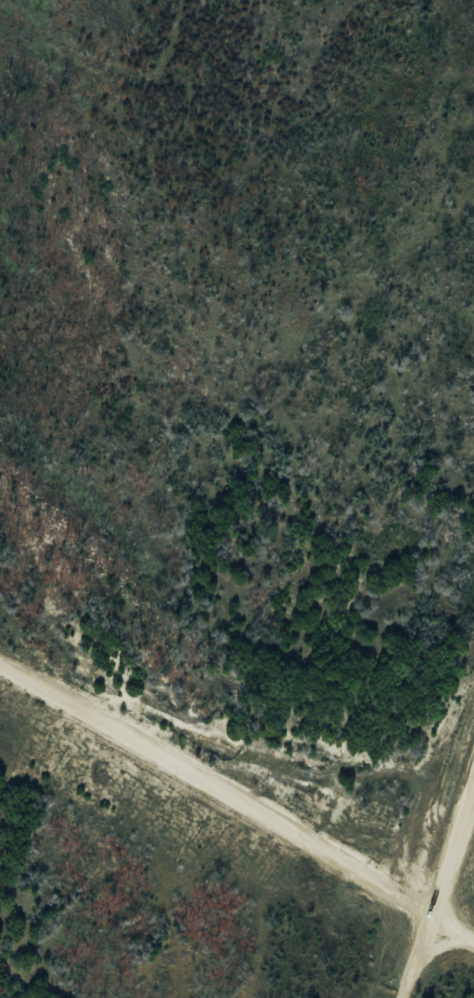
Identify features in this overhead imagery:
road: (437, 890)
road: (450, 935)

